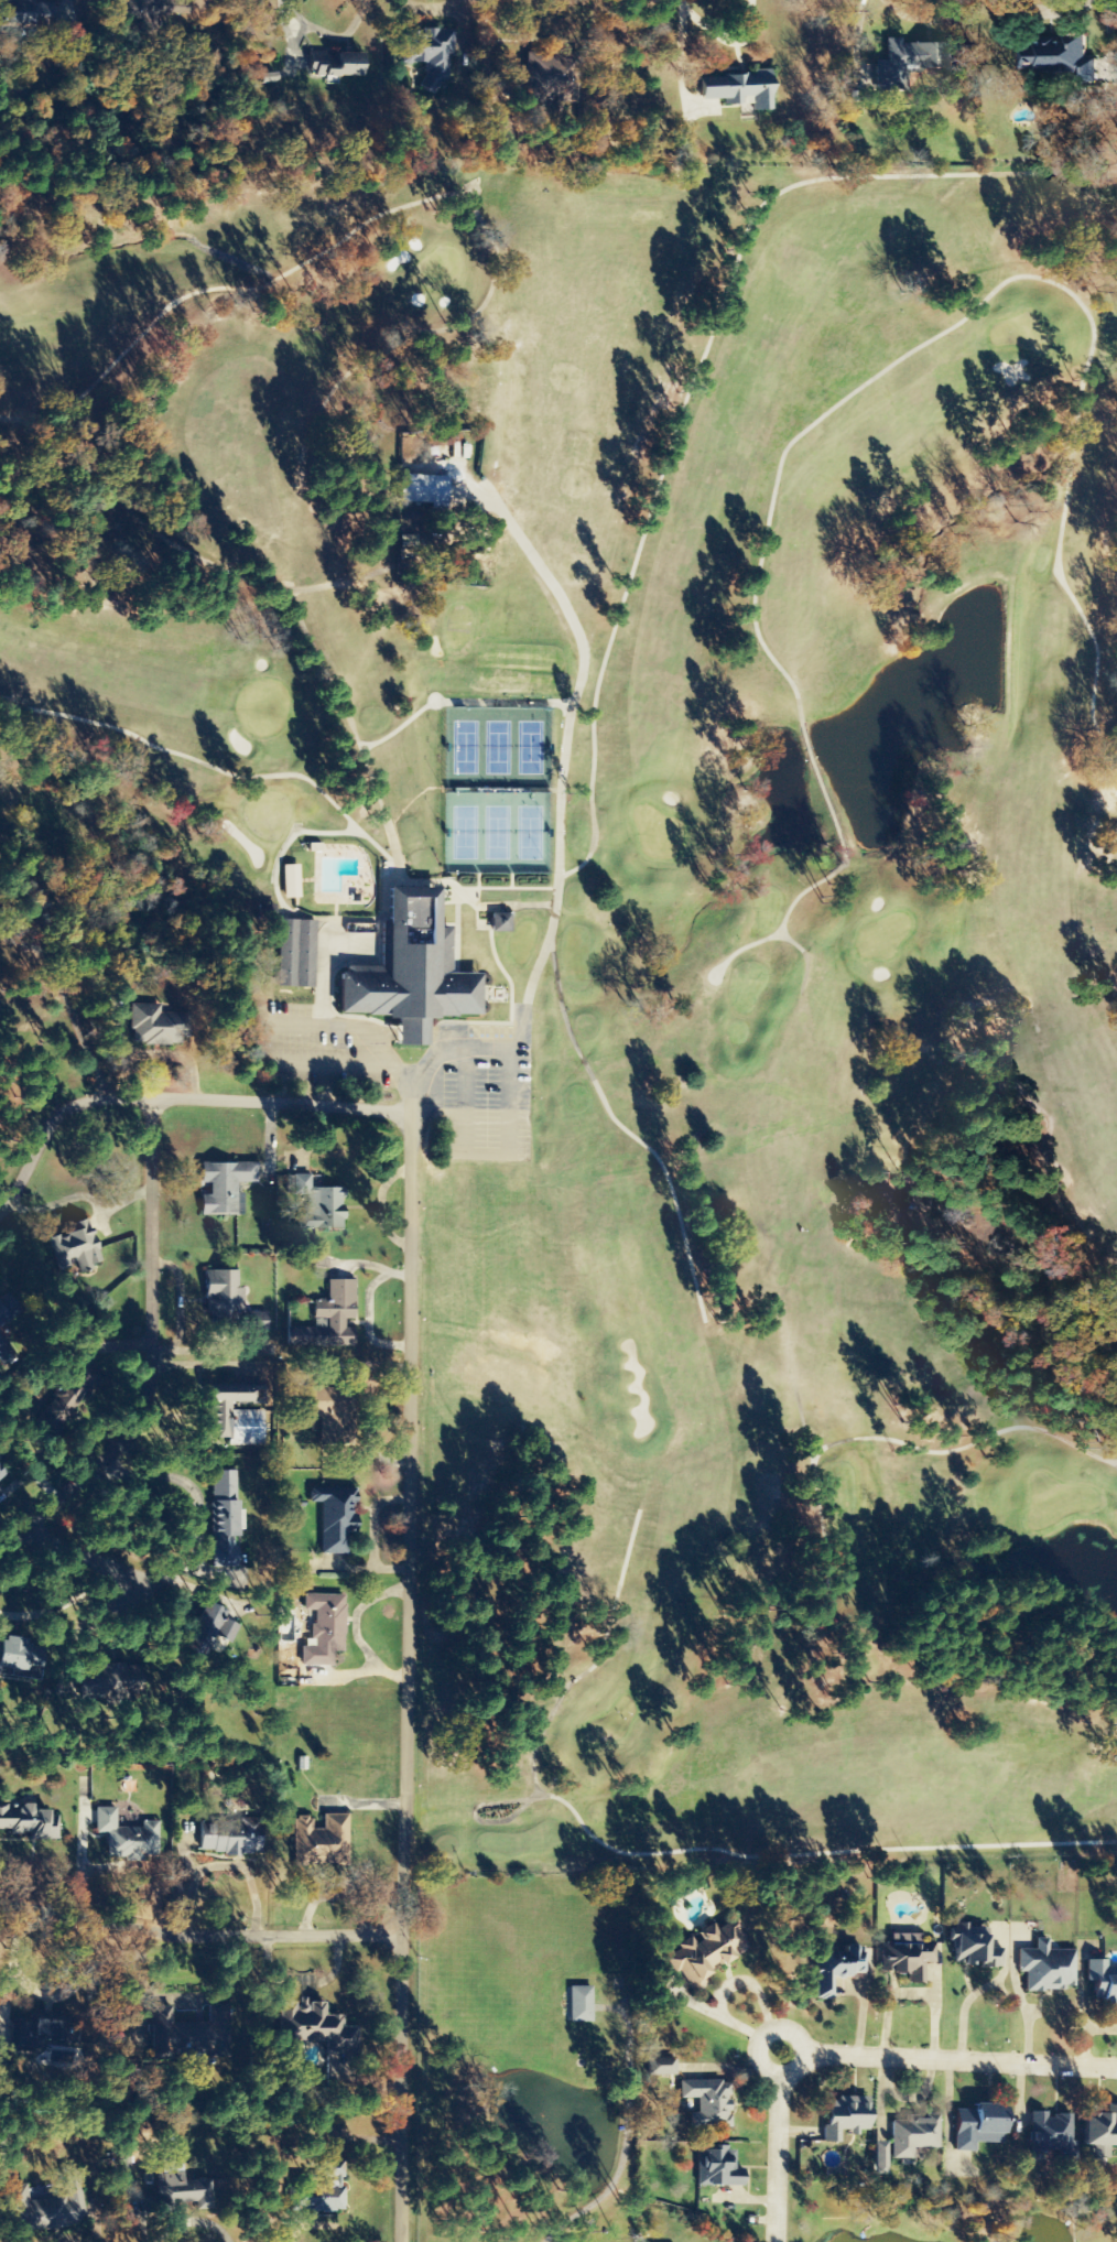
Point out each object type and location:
building: (23, 14)
building: (429, 55)
building: (1059, 58)
building: (907, 61)
building: (334, 65)
building: (514, 89)
building: (737, 89)
building: (422, 489)
park: (496, 787)
building: (291, 881)
park: (639, 903)
building: (499, 922)
building: (299, 954)
building: (409, 972)
building: (158, 1026)
parking lot: (362, 1044)
road: (403, 1094)
road: (173, 1098)
building: (225, 1188)
building: (324, 1210)
building: (75, 1249)
building: (228, 1298)
building: (1, 1319)
building: (328, 1319)
building: (1, 1345)
road: (147, 1351)
building: (328, 1408)
building: (230, 1416)
building: (333, 1517)
building: (223, 1518)
road: (186, 1567)
building: (205, 1621)
building: (324, 1628)
building: (11, 1658)
road: (400, 1677)
building: (29, 1821)
building: (127, 1837)
building: (325, 1839)
road: (198, 1936)
building: (973, 1948)
building: (705, 1952)
building: (907, 1956)
building: (833, 1968)
building: (1045, 1968)
building: (1102, 1983)
building: (579, 2004)
building: (311, 2029)
building: (183, 2035)
road: (850, 2056)
building: (660, 2066)
building: (707, 2103)
building: (844, 2118)
building: (976, 2126)
building: (1099, 2129)
building: (1051, 2134)
building: (913, 2136)
building: (878, 2158)
building: (717, 2167)
building: (182, 2188)
building: (315, 2198)
building: (48, 2206)

